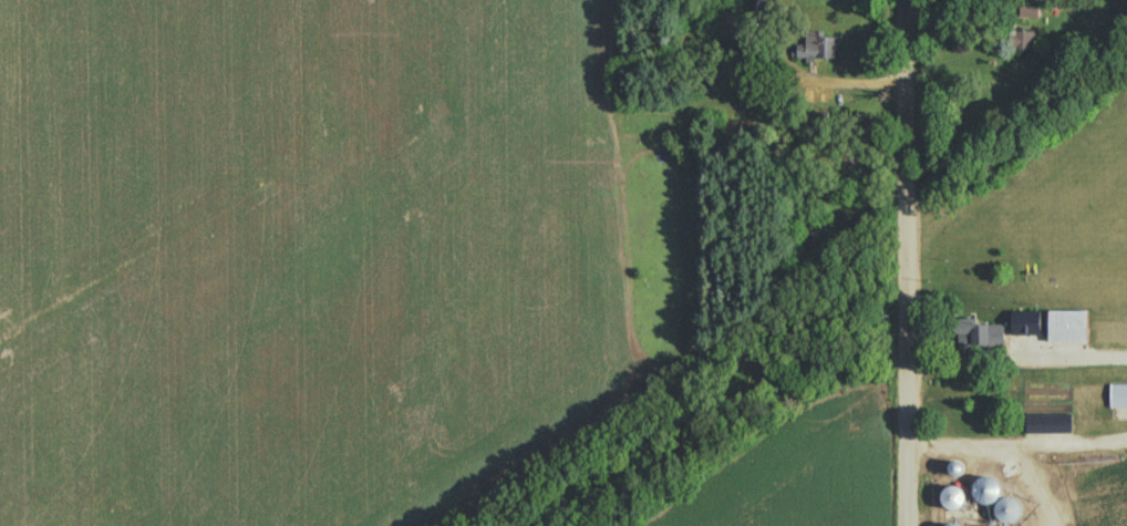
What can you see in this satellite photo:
building: (1028, 10)
building: (1025, 44)
building: (819, 48)
building: (737, 132)
road: (902, 262)
building: (1068, 329)
building: (979, 338)
building: (1118, 399)
building: (1048, 426)
building: (954, 499)
building: (1009, 513)

